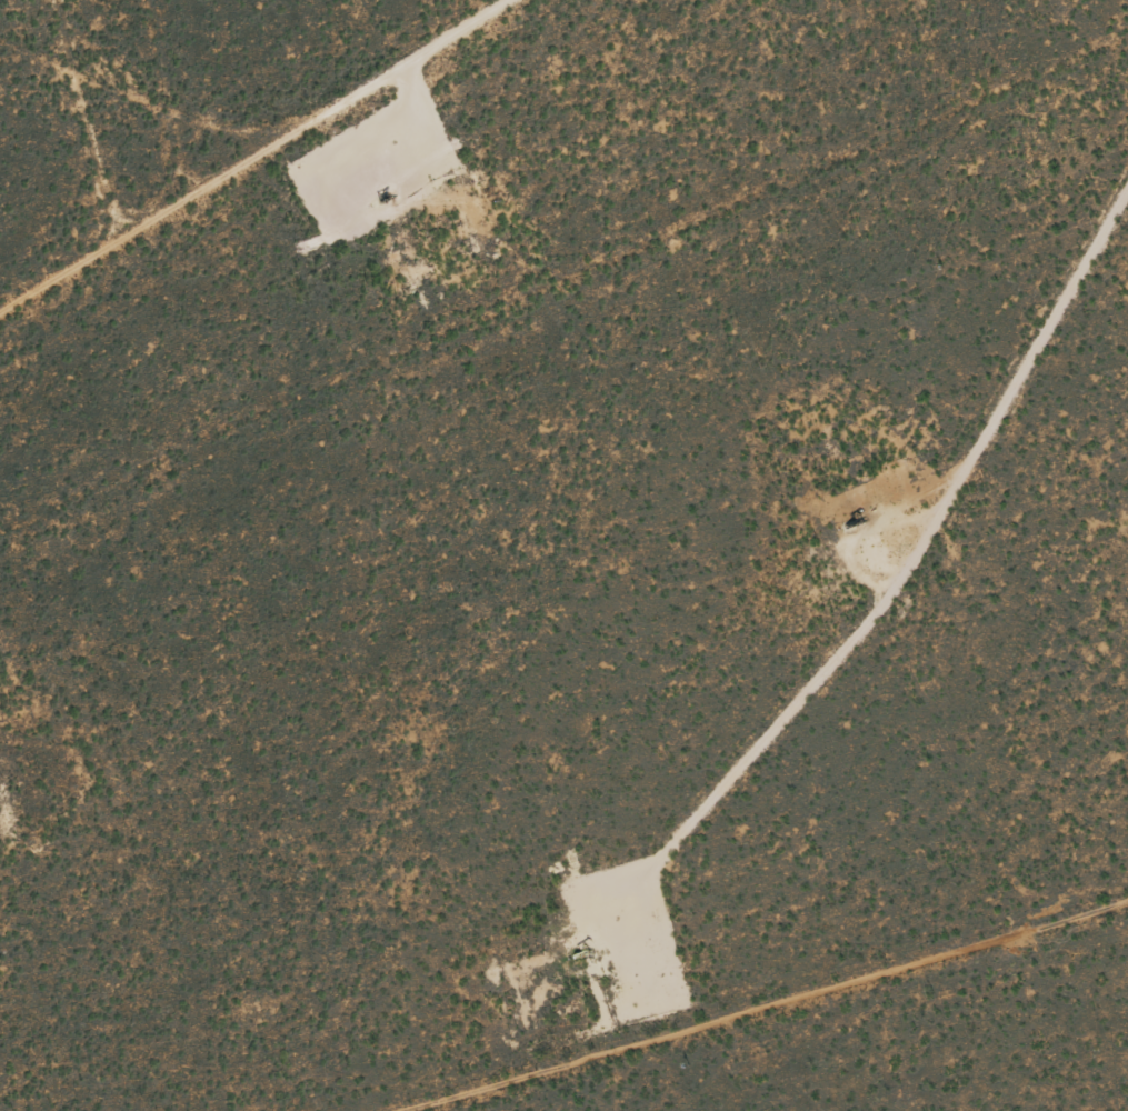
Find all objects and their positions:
road: (124, 114)
road: (266, 162)
road: (1025, 402)
road: (733, 998)

